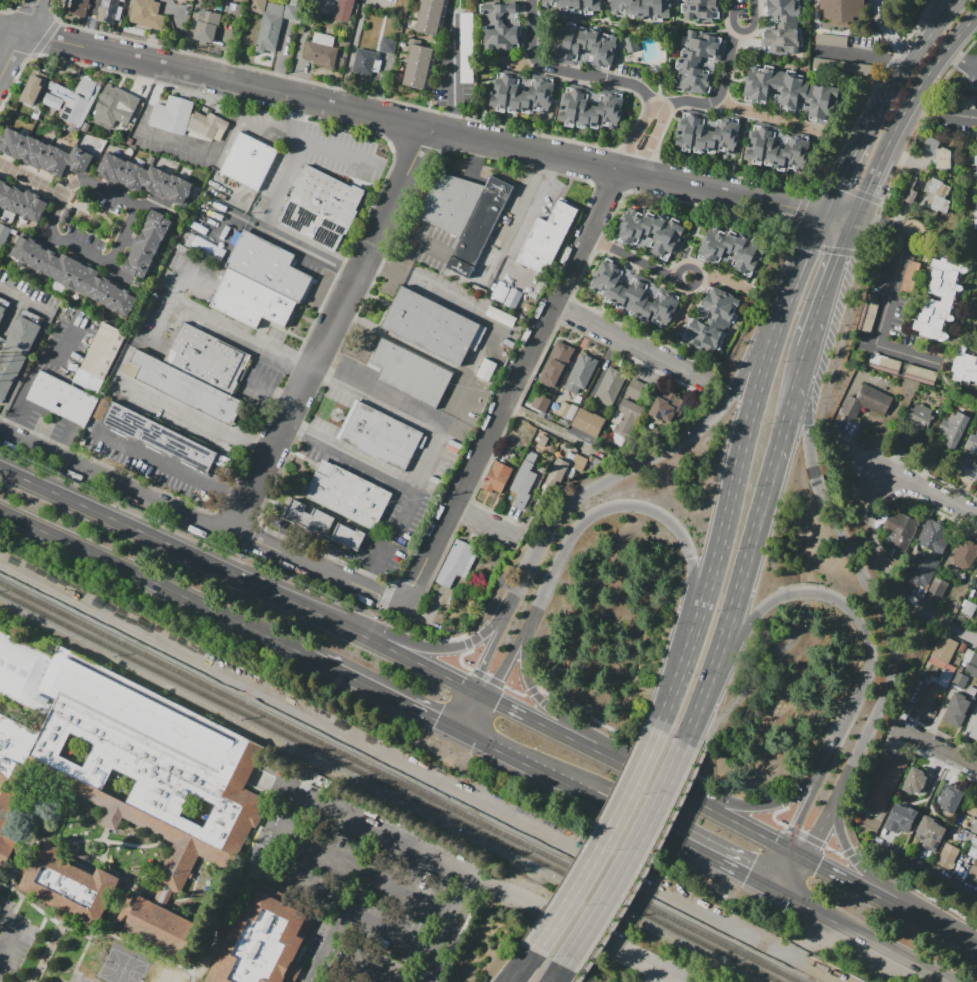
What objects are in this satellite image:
building: (182, 0)
building: (189, 0)
building: (293, 2)
road: (316, 2)
building: (257, 6)
building: (576, 6)
building: (78, 7)
building: (398, 8)
building: (642, 8)
road: (13, 9)
building: (703, 9)
building: (110, 10)
building: (344, 10)
building: (844, 10)
building: (235, 11)
building: (291, 12)
building: (146, 14)
road: (732, 15)
building: (430, 16)
road: (32, 17)
road: (753, 22)
building: (500, 25)
building: (207, 26)
building: (270, 28)
building: (783, 28)
road: (179, 31)
road: (931, 31)
road: (190, 34)
road: (18, 38)
road: (45, 39)
road: (300, 40)
building: (831, 40)
parking lot: (831, 40)
parking lot: (861, 40)
building: (631, 44)
building: (388, 45)
building: (586, 45)
building: (465, 48)
parking lot: (465, 48)
building: (321, 50)
road: (351, 51)
road: (281, 56)
road: (860, 57)
building: (696, 61)
road: (962, 61)
building: (364, 62)
road: (522, 62)
road: (727, 63)
building: (417, 66)
building: (842, 66)
parking lot: (842, 66)
road: (258, 69)
road: (570, 73)
road: (165, 74)
road: (454, 74)
road: (491, 74)
road: (492, 77)
road: (163, 83)
building: (32, 89)
building: (792, 91)
building: (519, 94)
road: (563, 95)
building: (76, 98)
road: (554, 100)
road: (883, 100)
building: (52, 101)
road: (624, 101)
building: (967, 101)
road: (556, 104)
building: (115, 106)
road: (861, 108)
building: (589, 109)
road: (739, 109)
road: (925, 112)
road: (906, 113)
parking lot: (956, 114)
building: (172, 115)
road: (672, 115)
road: (295, 116)
road: (959, 117)
road: (505, 119)
road: (528, 123)
building: (207, 124)
road: (493, 124)
road: (425, 125)
building: (85, 126)
road: (515, 129)
road: (533, 132)
building: (976, 132)
road: (573, 133)
road: (636, 134)
building: (705, 134)
road: (748, 134)
road: (156, 135)
road: (598, 136)
building: (110, 137)
road: (556, 137)
road: (738, 141)
road: (305, 142)
road: (811, 142)
building: (12, 143)
road: (584, 143)
road: (650, 143)
road: (741, 144)
road: (604, 148)
building: (777, 148)
building: (32, 152)
parking lot: (169, 152)
parking lot: (313, 155)
road: (637, 155)
building: (938, 155)
road: (476, 157)
road: (690, 157)
road: (219, 159)
building: (78, 160)
building: (54, 161)
building: (248, 161)
road: (714, 162)
road: (675, 163)
building: (974, 165)
road: (601, 167)
building: (111, 168)
road: (700, 168)
road: (761, 171)
road: (721, 173)
road: (644, 176)
building: (133, 177)
road: (568, 177)
road: (745, 177)
road: (782, 177)
road: (841, 177)
road: (31, 181)
building: (156, 182)
road: (769, 182)
traffic signals: (839, 182)
road: (278, 183)
building: (2, 185)
road: (609, 188)
building: (908, 190)
building: (179, 191)
road: (641, 192)
building: (937, 196)
building: (11, 198)
road: (151, 202)
road: (66, 203)
building: (450, 203)
road: (73, 204)
parking lot: (110, 205)
building: (33, 206)
building: (320, 208)
traffic signals: (795, 212)
road: (798, 214)
building: (65, 215)
road: (753, 215)
road: (108, 220)
building: (975, 222)
road: (863, 223)
traffic signals: (878, 224)
building: (156, 225)
road: (390, 226)
building: (479, 227)
road: (892, 228)
building: (650, 232)
building: (4, 234)
parking lot: (84, 237)
road: (355, 237)
building: (547, 238)
road: (682, 238)
road: (512, 239)
building: (190, 240)
road: (105, 242)
road: (290, 243)
road: (596, 243)
road: (119, 244)
building: (145, 244)
road: (937, 244)
road: (429, 245)
building: (730, 248)
road: (826, 248)
building: (26, 249)
building: (184, 249)
road: (964, 252)
traffic signals: (838, 255)
building: (45, 262)
building: (137, 264)
building: (267, 265)
road: (505, 269)
building: (65, 270)
road: (117, 273)
road: (662, 274)
building: (910, 276)
road: (724, 277)
building: (83, 279)
road: (825, 283)
building: (494, 285)
building: (539, 285)
building: (478, 289)
building: (101, 290)
road: (367, 292)
building: (501, 292)
building: (634, 293)
building: (512, 298)
building: (939, 298)
road: (174, 300)
building: (121, 301)
building: (250, 301)
building: (3, 306)
road: (564, 309)
road: (685, 309)
road: (11, 314)
building: (71, 315)
building: (866, 315)
building: (80, 319)
building: (711, 319)
parking lot: (896, 319)
road: (884, 320)
road: (621, 322)
building: (432, 326)
road: (330, 328)
road: (1, 333)
road: (233, 333)
road: (3, 339)
road: (38, 339)
road: (4, 341)
road: (950, 341)
road: (623, 343)
building: (17, 349)
road: (482, 349)
road: (54, 356)
building: (100, 357)
building: (206, 358)
building: (555, 363)
building: (884, 363)
road: (538, 364)
road: (802, 364)
building: (63, 366)
building: (965, 366)
road: (301, 367)
building: (486, 369)
building: (580, 373)
building: (409, 374)
building: (567, 374)
building: (920, 375)
road: (597, 379)
road: (951, 383)
road: (516, 384)
parking lot: (258, 385)
road: (262, 386)
building: (610, 386)
building: (185, 387)
building: (634, 389)
building: (46, 390)
building: (924, 392)
road: (286, 398)
building: (577, 399)
road: (378, 401)
building: (866, 401)
road: (755, 402)
building: (540, 403)
road: (3, 405)
road: (16, 405)
building: (76, 405)
building: (667, 406)
building: (567, 410)
building: (920, 416)
parking lot: (35, 417)
building: (626, 417)
road: (198, 418)
building: (588, 422)
road: (787, 422)
road: (49, 424)
road: (293, 426)
road: (21, 427)
building: (953, 428)
road: (553, 429)
parking lot: (61, 430)
road: (806, 430)
building: (514, 431)
building: (533, 431)
building: (379, 436)
building: (529, 437)
building: (158, 438)
building: (542, 441)
building: (590, 458)
building: (968, 458)
road: (162, 460)
road: (359, 460)
building: (595, 461)
building: (578, 462)
parking lot: (149, 463)
road: (862, 465)
building: (324, 468)
building: (558, 469)
building: (497, 476)
building: (524, 481)
road: (420, 485)
road: (591, 487)
road: (819, 492)
road: (927, 493)
road: (239, 494)
road: (817, 494)
building: (349, 496)
road: (177, 498)
road: (466, 511)
road: (531, 514)
road: (202, 517)
road: (238, 517)
building: (308, 517)
road: (485, 522)
building: (900, 529)
road: (290, 533)
road: (574, 533)
road: (277, 534)
building: (348, 537)
building: (933, 537)
road: (449, 544)
road: (285, 545)
parking lot: (381, 546)
road: (753, 547)
road: (331, 550)
road: (187, 553)
building: (965, 553)
road: (380, 559)
road: (326, 561)
building: (454, 562)
building: (920, 569)
road: (894, 573)
road: (370, 579)
road: (154, 583)
building: (976, 584)
building: (937, 586)
road: (801, 591)
road: (386, 596)
building: (968, 608)
building: (954, 610)
road: (757, 611)
building: (959, 613)
building: (976, 632)
road: (428, 647)
building: (963, 647)
building: (943, 649)
road: (892, 655)
road: (678, 658)
road: (423, 664)
building: (941, 664)
building: (972, 666)
road: (865, 674)
traffic signals: (478, 676)
building: (931, 676)
building: (944, 678)
road: (709, 688)
road: (379, 689)
building: (971, 690)
road: (480, 693)
road: (535, 694)
building: (925, 698)
building: (939, 698)
building: (957, 701)
traffic signals: (497, 702)
building: (936, 703)
road: (461, 706)
road: (480, 716)
traffic signals: (437, 717)
road: (543, 723)
road: (461, 729)
building: (973, 731)
road: (937, 751)
building: (127, 756)
road: (672, 760)
road: (535, 766)
road: (937, 777)
road: (940, 778)
building: (878, 781)
building: (916, 781)
railway: (400, 782)
railway: (389, 787)
building: (951, 799)
road: (916, 802)
road: (702, 803)
road: (765, 805)
road: (932, 810)
road: (62, 813)
building: (901, 818)
road: (793, 830)
road: (104, 833)
building: (929, 833)
building: (950, 833)
building: (972, 835)
road: (281, 836)
traffic signals: (791, 836)
road: (90, 839)
road: (607, 841)
road: (683, 842)
road: (132, 844)
building: (5, 847)
road: (809, 852)
road: (635, 853)
road: (22, 856)
building: (947, 856)
road: (649, 862)
traffic signals: (819, 863)
road: (860, 865)
building: (973, 868)
road: (928, 870)
road: (368, 873)
traffic signals: (747, 876)
road: (858, 883)
building: (71, 887)
road: (231, 891)
road: (155, 894)
road: (533, 909)
building: (160, 925)
road: (212, 926)
road: (940, 928)
road: (10, 930)
road: (446, 930)
road: (858, 934)
building: (263, 942)
road: (324, 947)
road: (974, 947)
park: (125, 960)
road: (637, 961)
road: (527, 964)
road: (359, 965)
parking lot: (682, 969)
road: (562, 970)
park: (117, 972)
road: (583, 975)
road: (313, 980)

